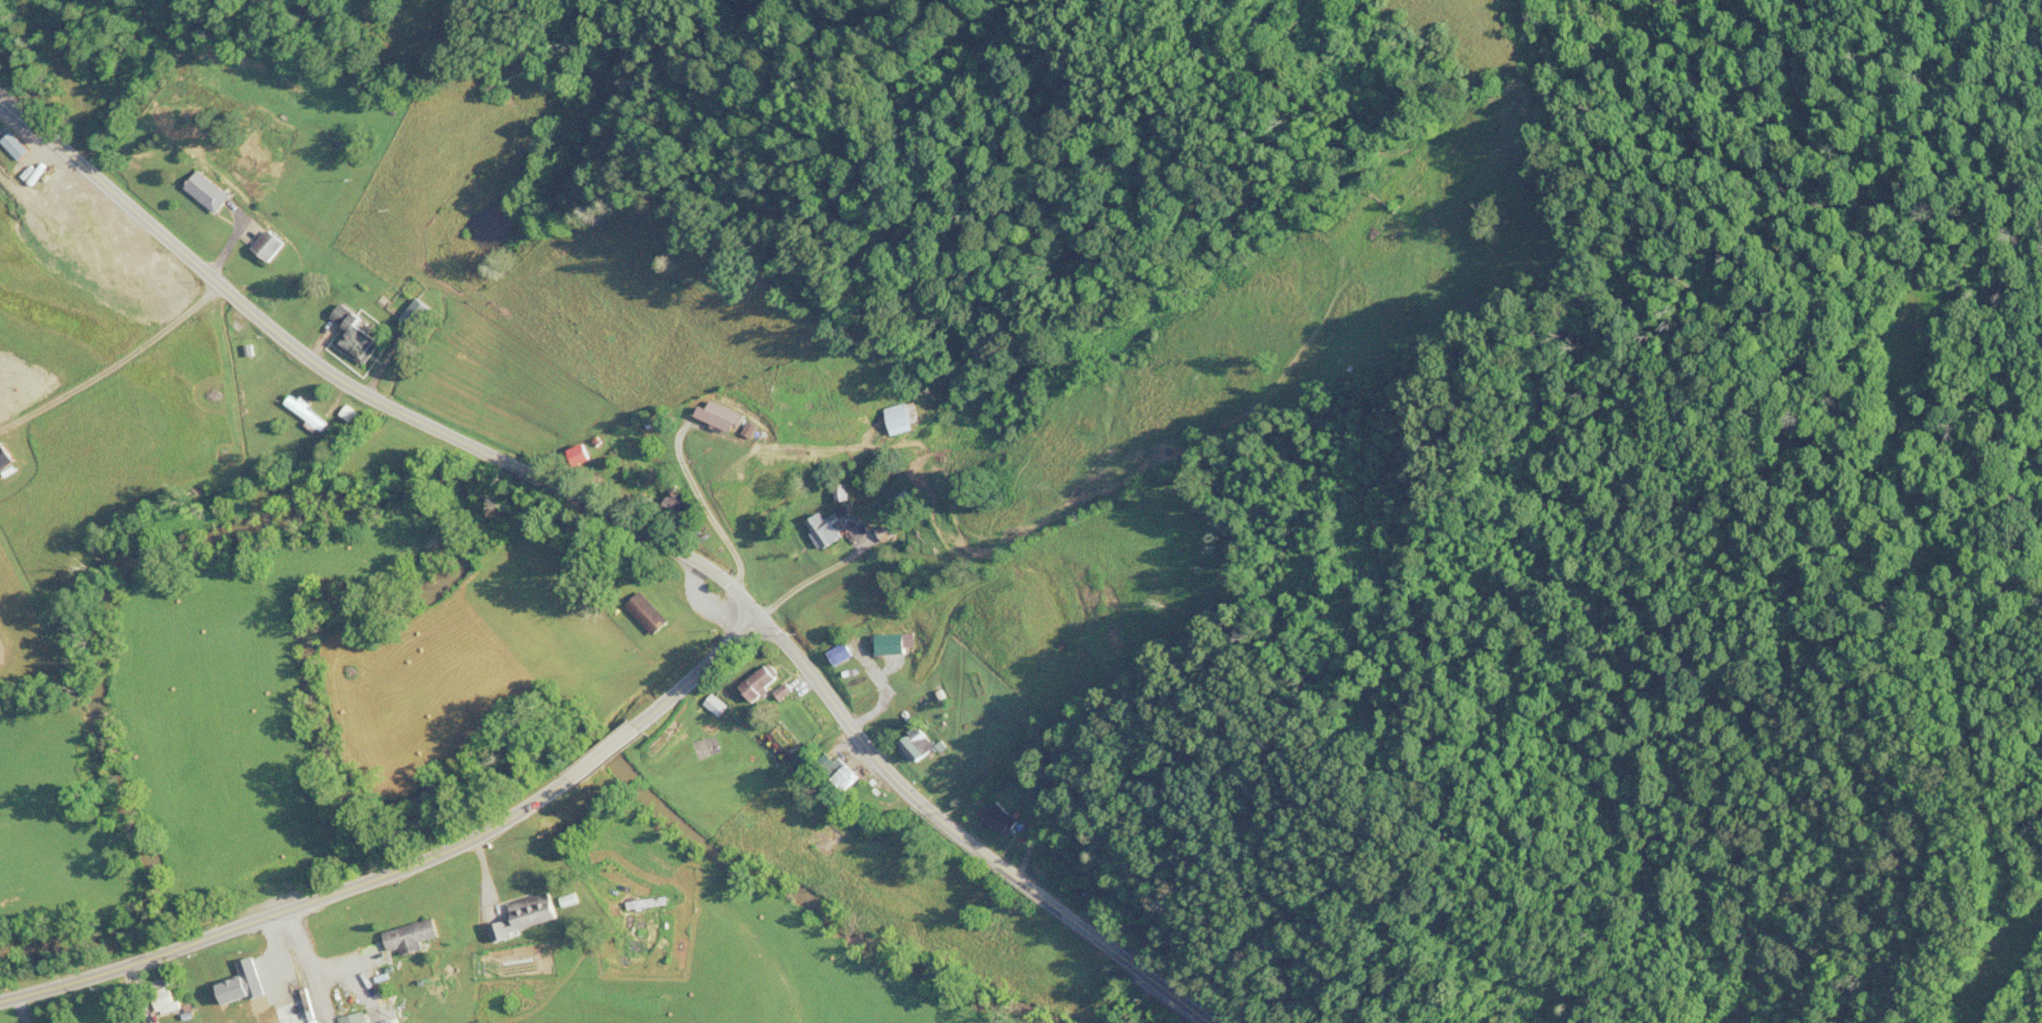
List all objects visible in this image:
building: (16, 146)
building: (210, 193)
building: (271, 247)
building: (356, 336)
road: (115, 365)
road: (358, 390)
building: (306, 413)
building: (348, 415)
building: (722, 417)
building: (906, 420)
building: (581, 455)
building: (7, 456)
building: (903, 501)
building: (677, 508)
building: (832, 527)
river: (368, 601)
building: (648, 613)
road: (699, 672)
building: (763, 684)
building: (875, 700)
building: (918, 745)
road: (604, 753)
building: (848, 775)
building: (1000, 820)
road: (967, 841)
building: (1084, 890)
building: (647, 905)
road: (292, 907)
building: (522, 917)
building: (412, 937)
building: (309, 991)
building: (165, 1002)
building: (235, 1017)
building: (354, 1019)

